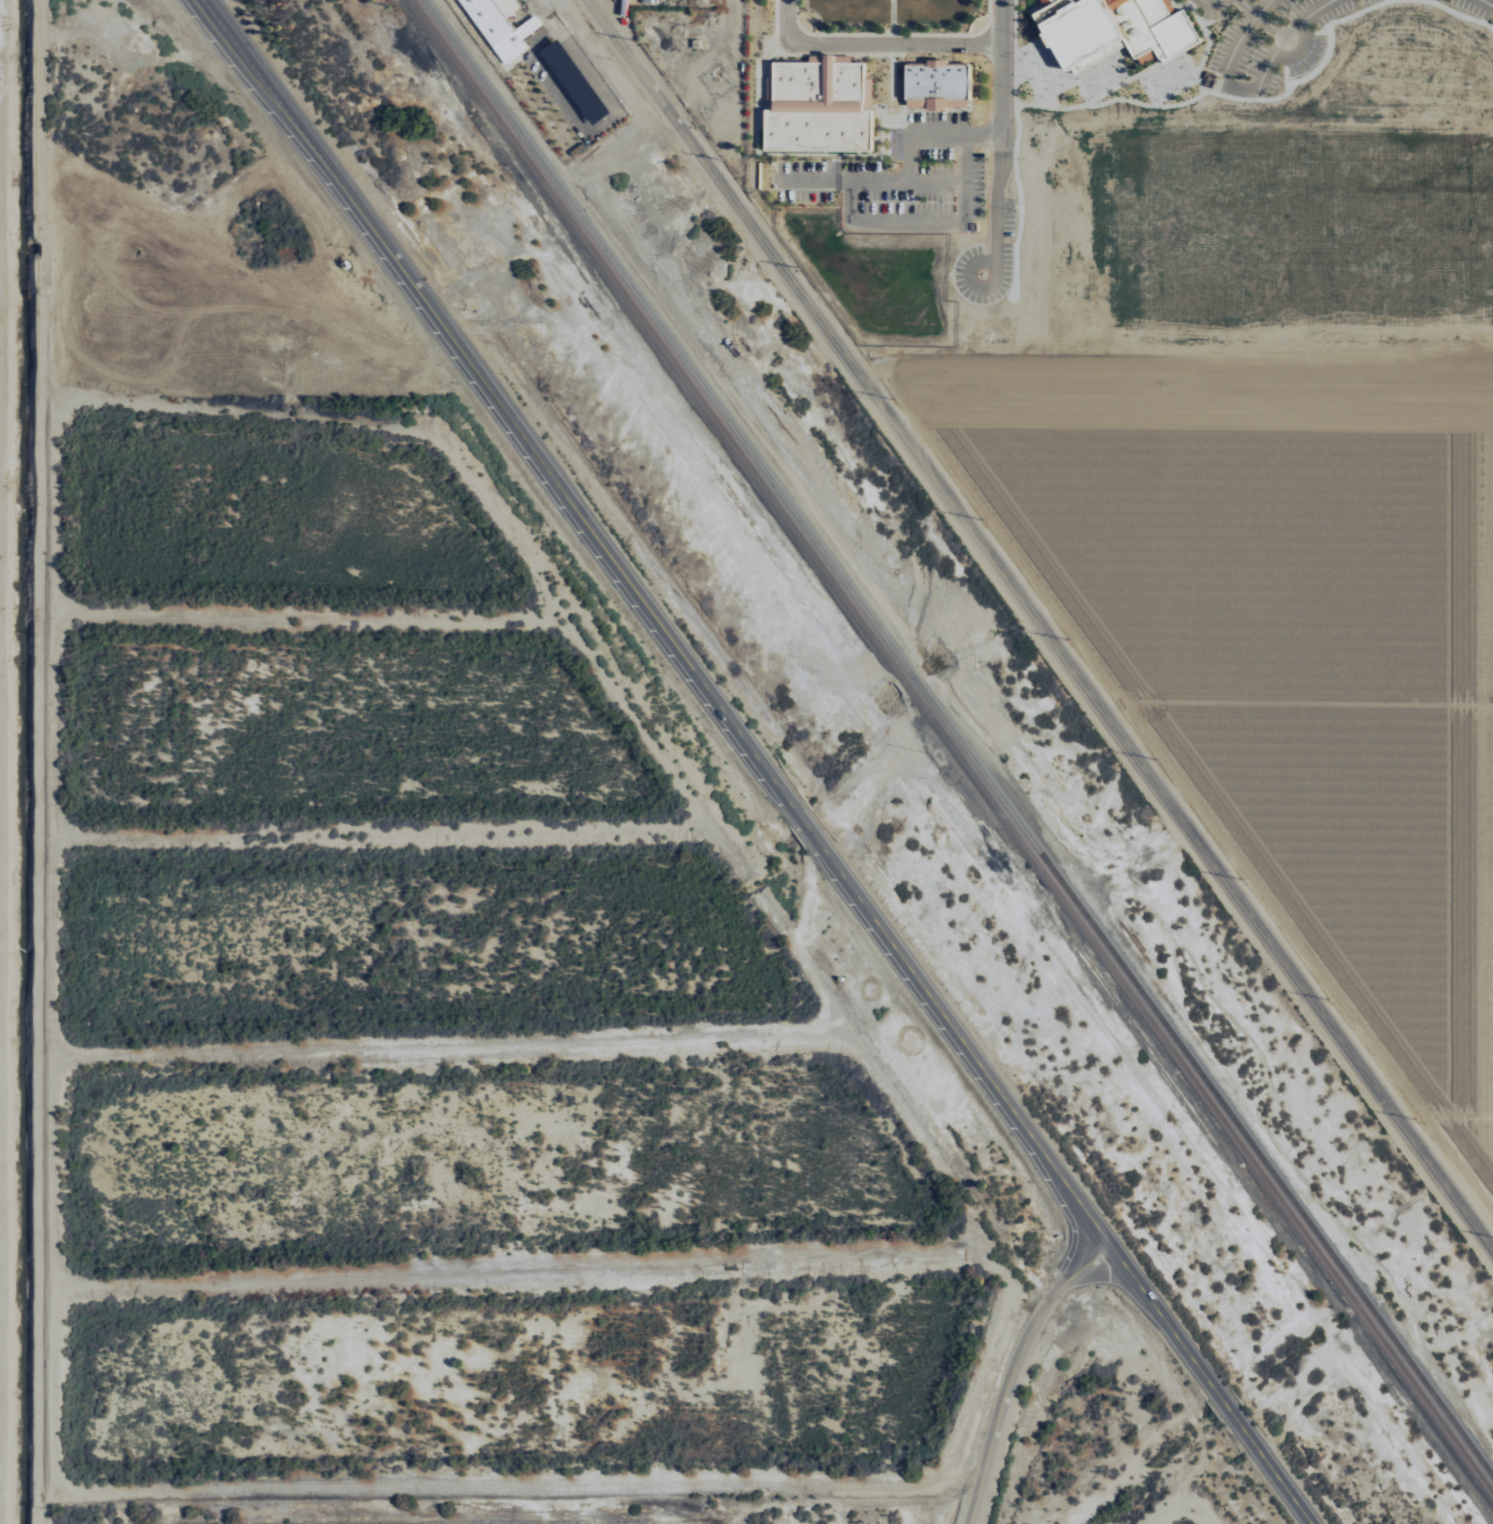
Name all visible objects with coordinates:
road: (1211, 0)
building: (1042, 1)
road: (1487, 3)
parking lot: (1477, 7)
parking lot: (1209, 8)
building: (1052, 9)
road: (1175, 9)
road: (1460, 14)
road: (795, 15)
road: (988, 15)
road: (785, 17)
road: (891, 17)
park: (892, 17)
road: (1268, 24)
building: (500, 27)
building: (1147, 28)
building: (1081, 30)
road: (1319, 30)
road: (891, 34)
road: (1282, 35)
road: (1235, 37)
road: (1045, 40)
parking lot: (1268, 41)
road: (1026, 42)
building: (694, 43)
road: (898, 44)
road: (1147, 48)
road: (1150, 48)
road: (1297, 48)
building: (1145, 52)
road: (1050, 53)
road: (775, 54)
road: (814, 54)
building: (829, 57)
road: (1116, 59)
road: (701, 60)
building: (935, 61)
road: (1186, 61)
park: (1037, 66)
road: (762, 68)
road: (1001, 68)
road: (1013, 74)
park: (1098, 74)
park: (1166, 74)
road: (1282, 76)
road: (891, 79)
road: (1026, 80)
building: (909, 81)
building: (922, 81)
building: (935, 81)
building: (948, 81)
building: (961, 81)
road: (1142, 86)
road: (1234, 86)
road: (1050, 88)
road: (1105, 88)
road: (1172, 88)
building: (867, 92)
building: (768, 93)
road: (1269, 95)
road: (1108, 96)
road: (913, 102)
road: (918, 102)
building: (934, 102)
road: (935, 102)
road: (952, 102)
road: (958, 102)
road: (765, 104)
road: (916, 105)
building: (817, 107)
flagpole: (891, 107)
road: (876, 114)
road: (902, 125)
road: (756, 128)
road: (881, 133)
road: (885, 136)
road: (955, 136)
road: (876, 138)
road: (825, 152)
road: (858, 152)
road: (869, 152)
road: (885, 152)
road: (818, 154)
road: (838, 160)
road: (908, 160)
parking lot: (899, 172)
road: (964, 179)
road: (840, 180)
road: (936, 184)
road: (849, 200)
road: (906, 222)
road: (1012, 222)
road: (991, 236)
parking lot: (985, 261)
road: (998, 299)
road: (1172, 373)
road: (954, 421)
road: (1040, 626)
crop: (1281, 636)
road: (1305, 696)
railway: (959, 738)
railway: (951, 747)
road: (761, 762)
road: (1188, 794)
road: (1454, 1110)
road: (1018, 1372)

